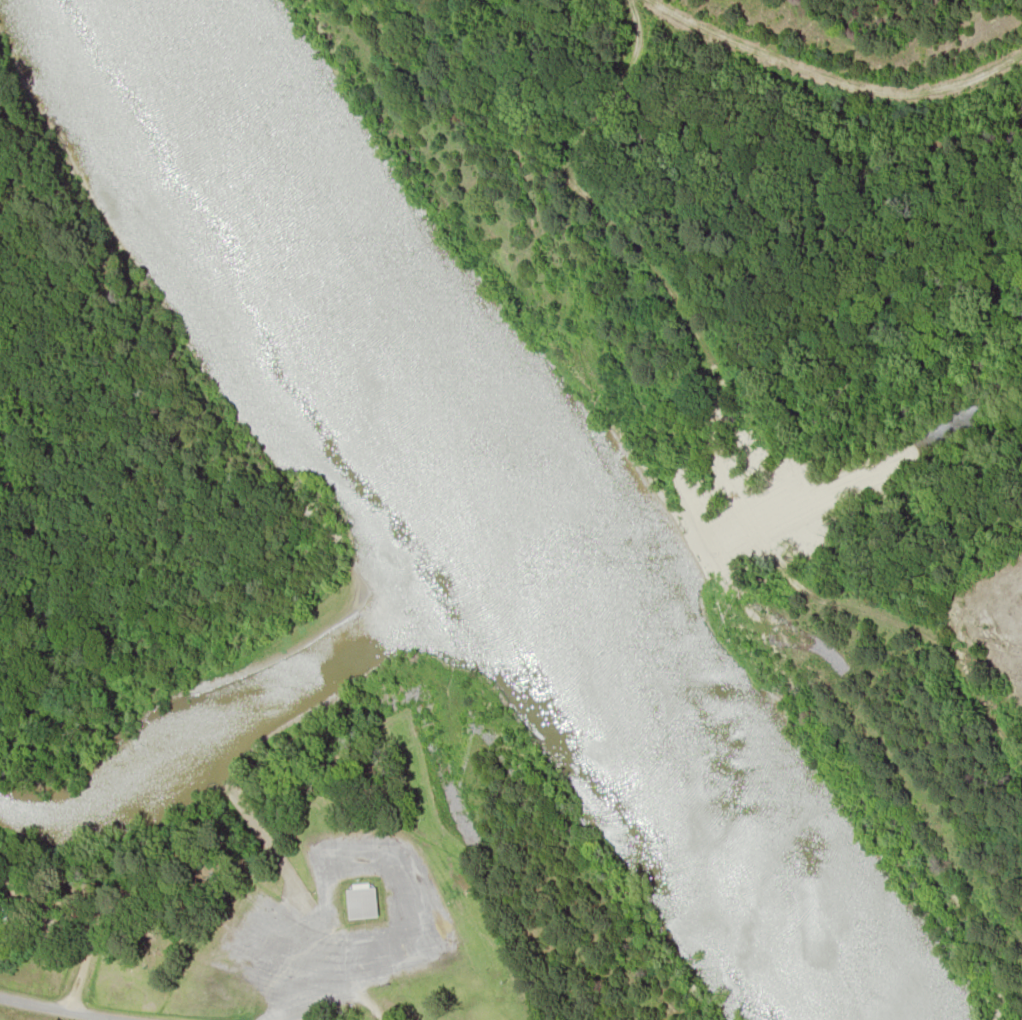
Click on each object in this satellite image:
building: (360, 901)
road: (393, 961)
road: (364, 995)
road: (297, 999)
road: (67, 1009)

